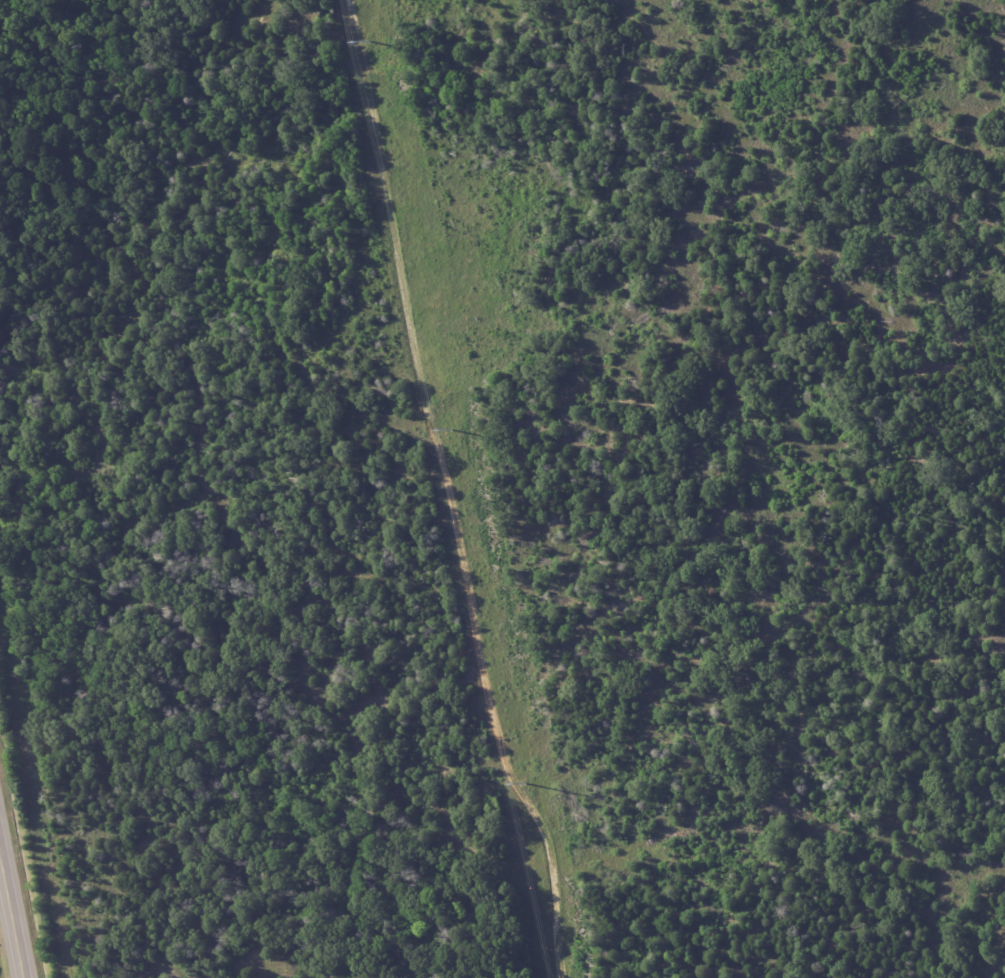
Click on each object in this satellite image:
power tower: (367, 41)
power tower: (449, 430)
power tower: (523, 784)
road: (11, 916)

